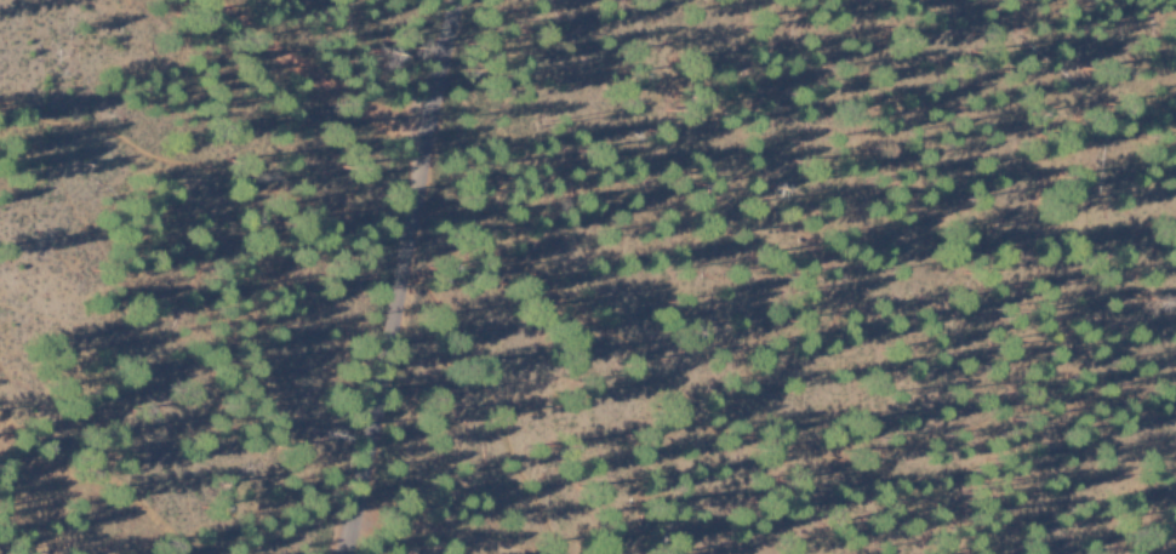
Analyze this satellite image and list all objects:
road: (316, 70)
road: (392, 275)

